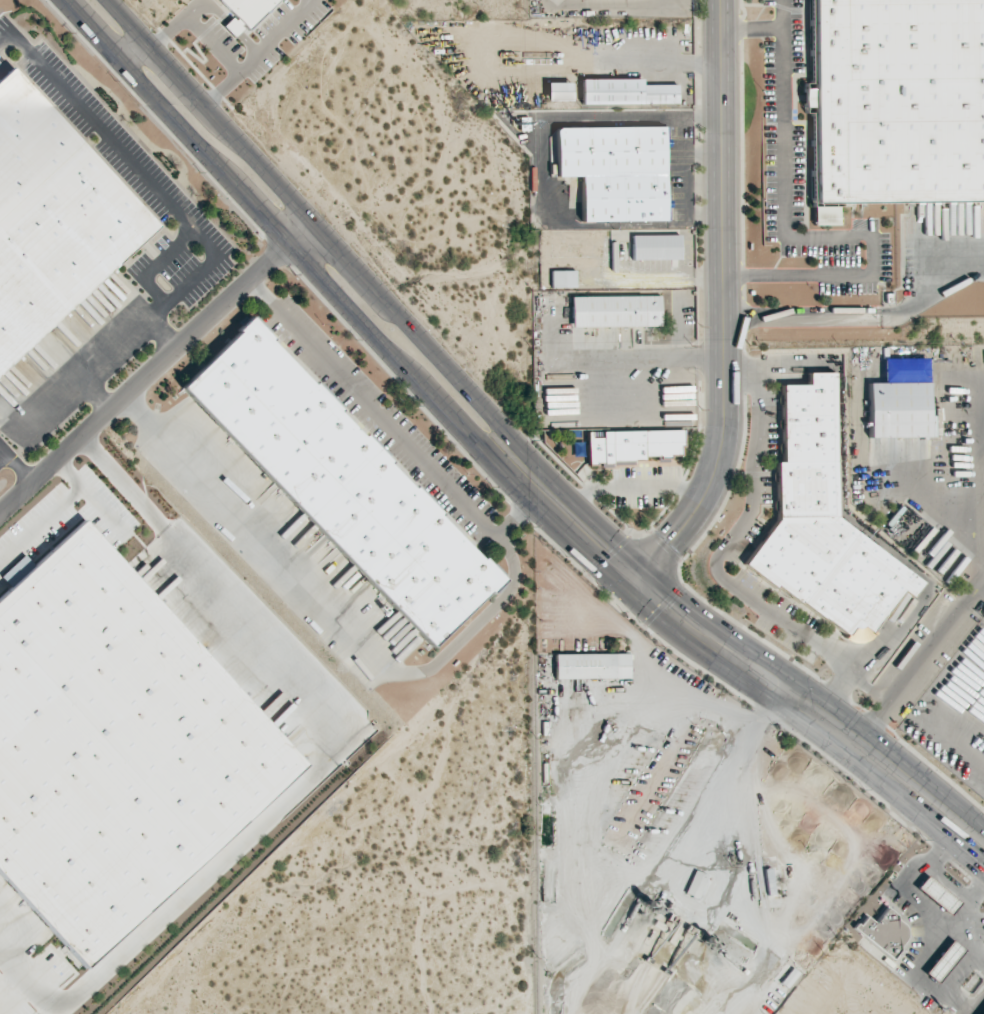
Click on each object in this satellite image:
road: (207, 5)
building: (245, 12)
road: (196, 27)
road: (232, 27)
road: (751, 28)
road: (247, 43)
road: (258, 52)
road: (653, 58)
building: (557, 91)
building: (625, 92)
building: (898, 100)
building: (615, 170)
building: (52, 219)
road: (199, 235)
road: (803, 237)
building: (655, 246)
road: (158, 264)
building: (562, 278)
building: (616, 311)
road: (724, 311)
road: (161, 335)
road: (662, 358)
road: (156, 366)
building: (905, 370)
road: (97, 394)
building: (899, 410)
road: (518, 442)
building: (634, 448)
road: (8, 454)
road: (498, 461)
road: (21, 468)
building: (340, 483)
road: (52, 513)
road: (517, 520)
building: (822, 525)
traffic signals: (672, 540)
road: (720, 554)
traffic signals: (593, 557)
traffic signals: (678, 600)
road: (468, 629)
building: (591, 666)
building: (115, 747)
road: (316, 765)
building: (695, 884)
building: (935, 894)
building: (881, 932)
building: (942, 960)
road: (983, 1013)

